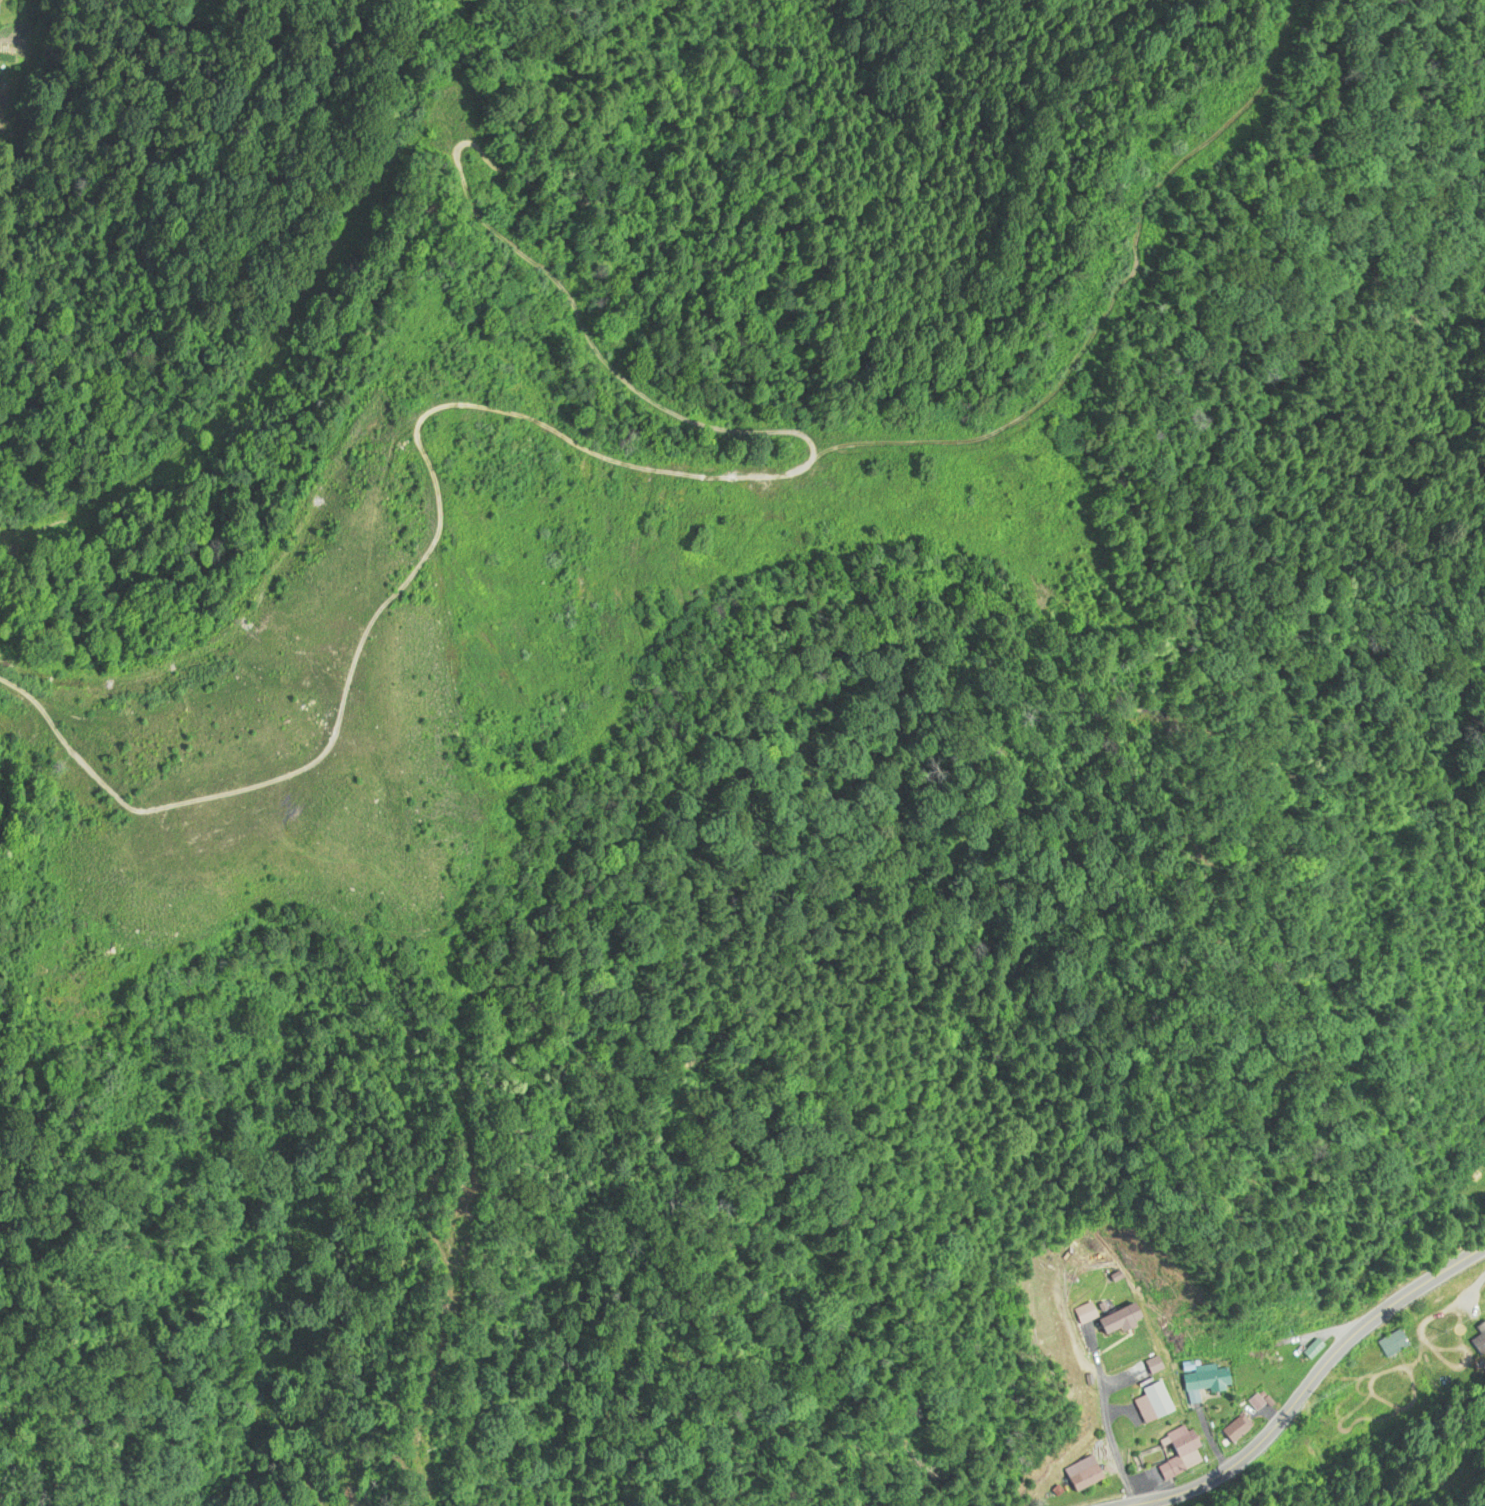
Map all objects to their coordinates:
building: (1127, 1319)
building: (1481, 1330)
building: (1388, 1348)
building: (1261, 1358)
building: (1200, 1381)
road: (1309, 1381)
building: (1252, 1401)
building: (1157, 1402)
building: (1232, 1430)
building: (1178, 1453)
road: (1206, 1491)

